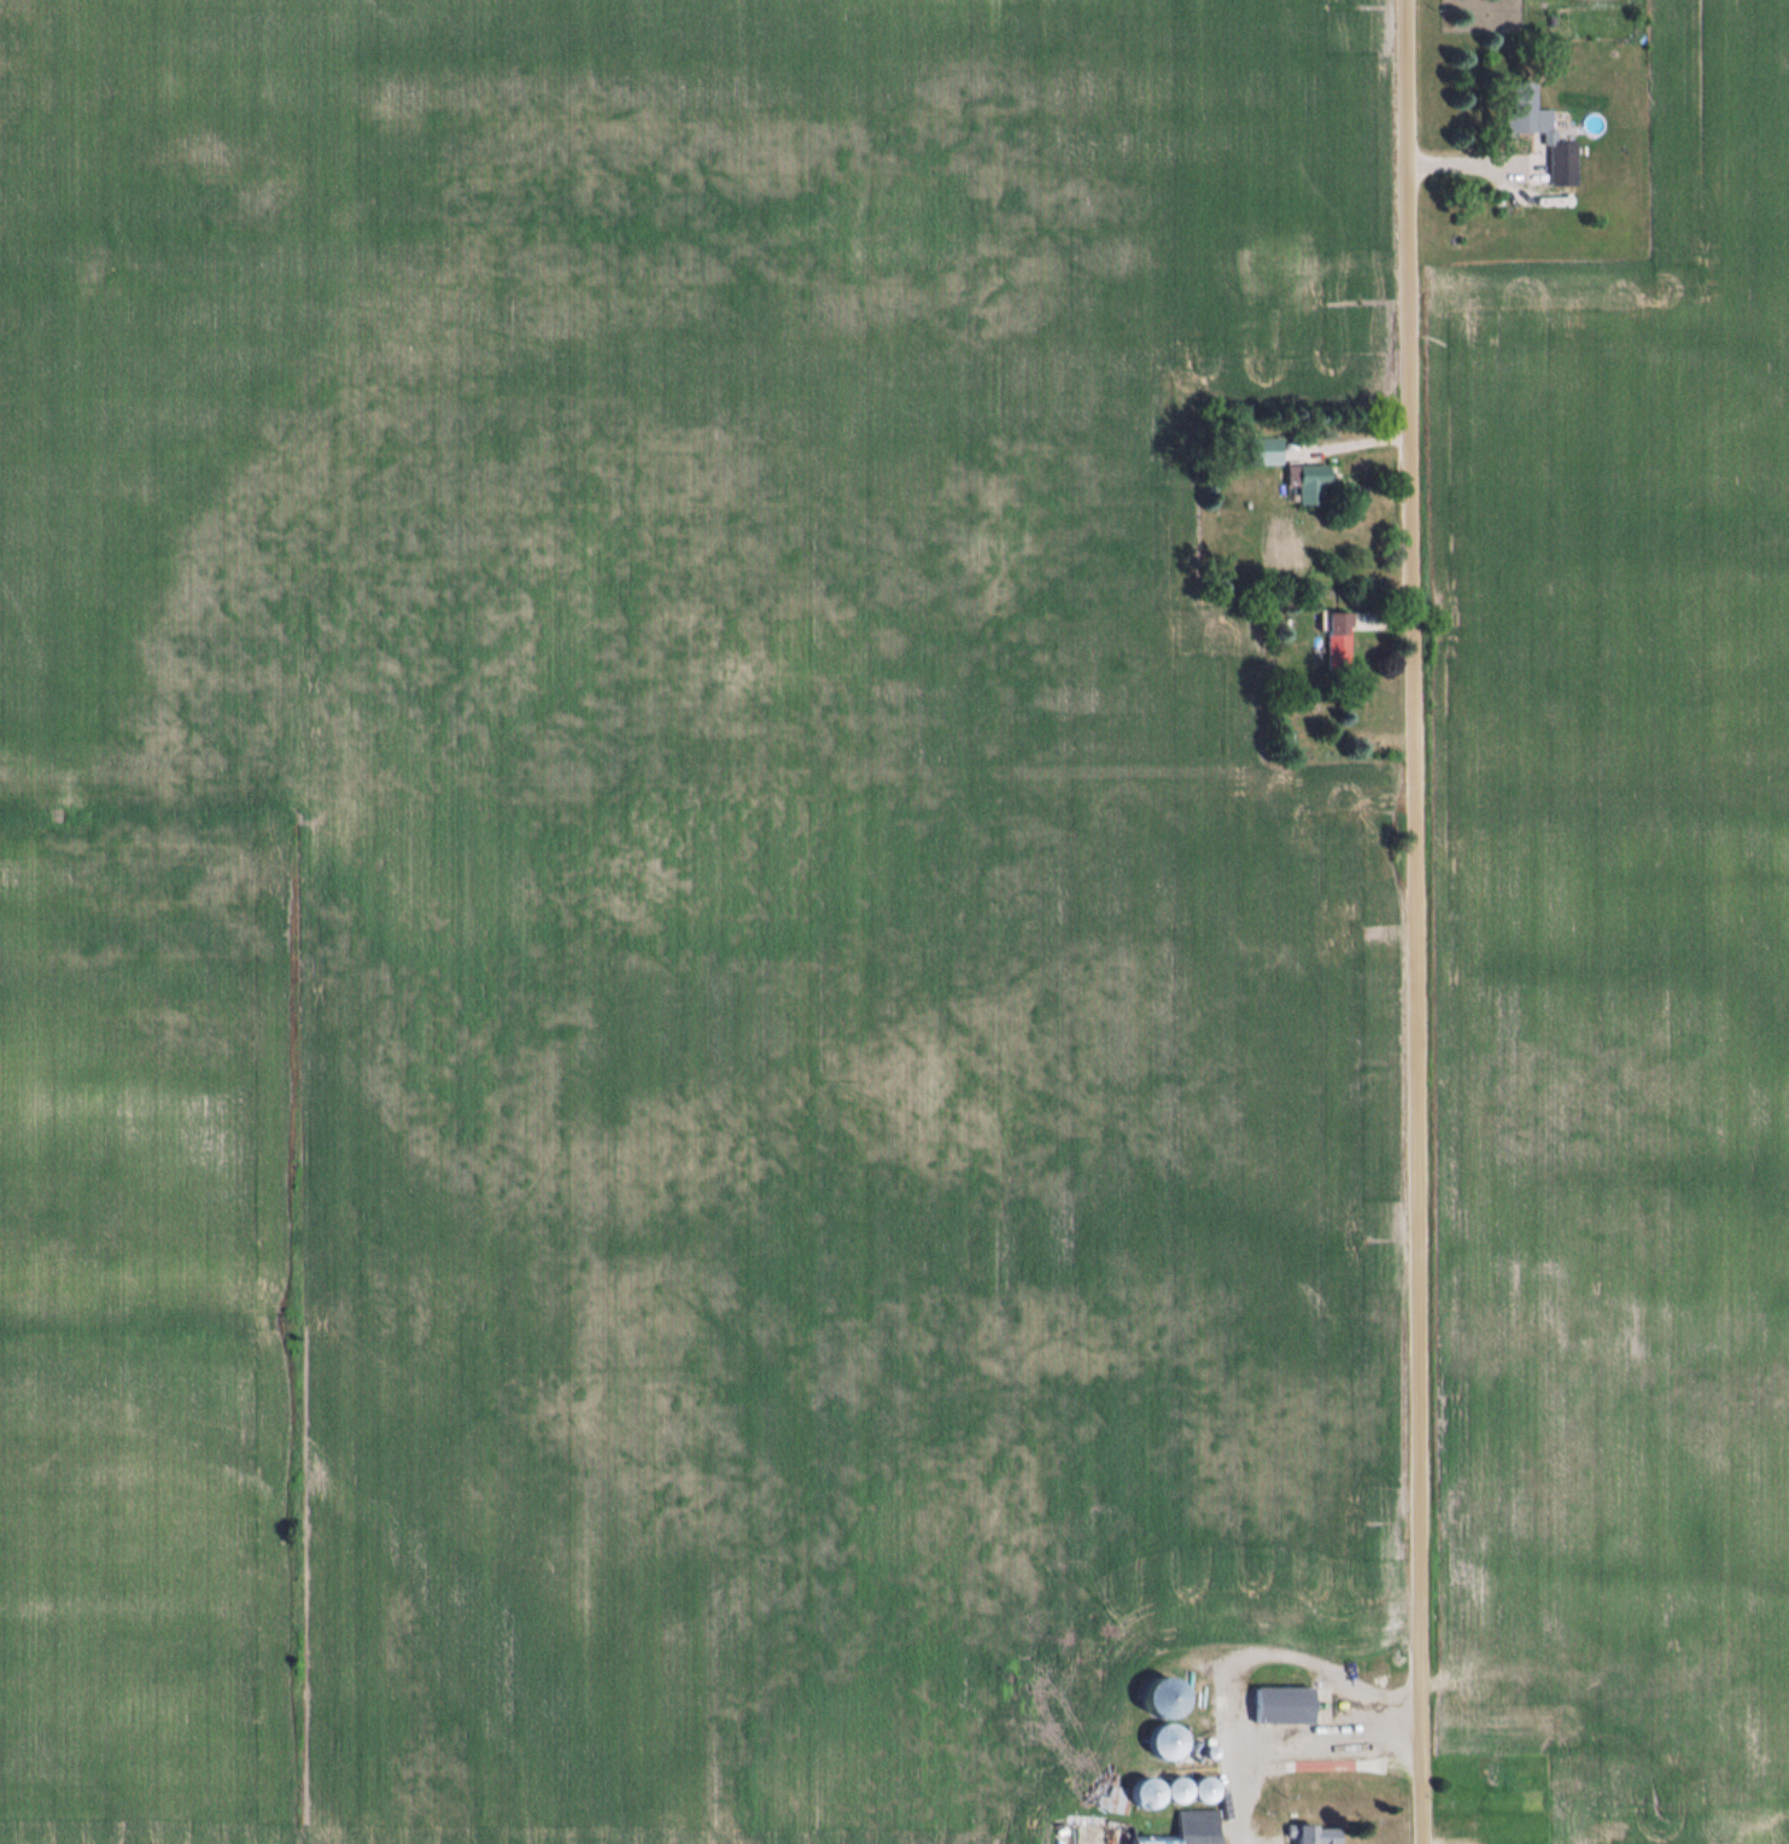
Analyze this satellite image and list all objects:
building: (1551, 138)
building: (1267, 451)
building: (1311, 484)
building: (1340, 641)
road: (1413, 922)
building: (1296, 1706)
building: (1168, 1743)
building: (1177, 1791)
building: (1204, 1791)
building: (1146, 1795)
building: (1537, 1820)
building: (1095, 1832)
building: (1317, 1836)

